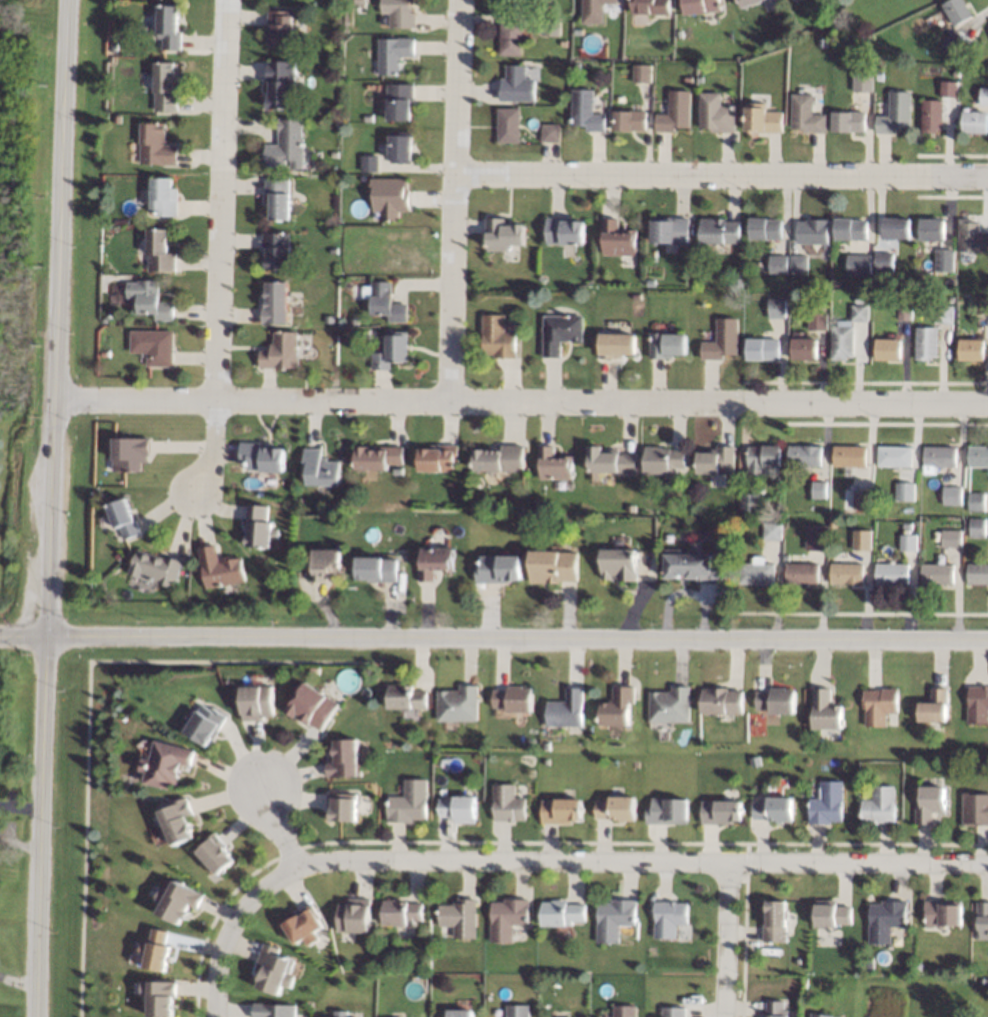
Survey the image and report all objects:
building: (358, 2)
building: (747, 3)
building: (336, 5)
building: (509, 5)
building: (649, 6)
building: (699, 6)
building: (592, 10)
building: (956, 10)
building: (397, 13)
building: (168, 26)
building: (550, 26)
building: (280, 27)
building: (510, 38)
building: (957, 42)
building: (563, 43)
building: (114, 47)
building: (392, 54)
building: (642, 72)
building: (955, 72)
building: (880, 76)
building: (699, 78)
building: (688, 80)
building: (863, 80)
building: (281, 84)
building: (516, 85)
building: (166, 87)
building: (949, 89)
building: (984, 97)
building: (398, 101)
building: (585, 111)
building: (674, 112)
building: (715, 113)
building: (896, 113)
building: (806, 115)
building: (932, 116)
building: (366, 118)
building: (762, 118)
building: (118, 119)
building: (629, 120)
building: (849, 121)
building: (975, 122)
building: (508, 125)
building: (550, 133)
building: (156, 145)
building: (287, 145)
building: (400, 147)
building: (368, 163)
road: (722, 179)
building: (164, 197)
building: (389, 197)
building: (278, 198)
road: (456, 201)
road: (220, 202)
building: (764, 228)
building: (896, 228)
building: (849, 229)
building: (930, 229)
building: (563, 231)
building: (669, 231)
building: (719, 231)
building: (811, 231)
building: (503, 234)
building: (971, 236)
building: (617, 238)
building: (276, 250)
building: (332, 250)
building: (160, 251)
building: (943, 260)
building: (883, 262)
building: (797, 263)
building: (777, 264)
building: (857, 264)
building: (650, 282)
building: (345, 285)
building: (822, 294)
building: (636, 296)
building: (859, 299)
building: (950, 299)
building: (152, 301)
building: (384, 301)
building: (275, 302)
building: (981, 305)
building: (776, 308)
building: (903, 309)
building: (858, 313)
building: (942, 314)
building: (106, 318)
building: (817, 321)
building: (560, 332)
building: (328, 333)
building: (497, 337)
building: (721, 340)
building: (841, 342)
building: (924, 343)
building: (616, 345)
building: (666, 345)
building: (153, 346)
building: (762, 349)
building: (803, 349)
building: (887, 349)
building: (970, 349)
building: (391, 351)
building: (105, 352)
building: (280, 352)
road: (518, 402)
road: (209, 448)
building: (130, 453)
building: (803, 455)
building: (763, 456)
building: (849, 456)
building: (894, 456)
building: (939, 456)
building: (978, 456)
building: (261, 457)
building: (377, 457)
building: (437, 458)
building: (499, 459)
building: (662, 460)
building: (609, 461)
building: (716, 461)
building: (553, 464)
building: (320, 468)
building: (397, 471)
building: (818, 489)
building: (905, 492)
building: (259, 494)
building: (951, 495)
building: (748, 501)
building: (862, 501)
building: (976, 501)
building: (629, 507)
road: (46, 508)
building: (125, 518)
building: (799, 519)
building: (832, 521)
building: (907, 526)
building: (260, 527)
building: (977, 527)
building: (771, 531)
building: (951, 539)
building: (861, 540)
building: (816, 542)
building: (908, 543)
building: (119, 556)
building: (434, 562)
building: (325, 564)
building: (618, 564)
building: (552, 566)
building: (691, 566)
building: (157, 568)
building: (221, 568)
building: (376, 569)
building: (498, 569)
building: (756, 573)
building: (801, 573)
building: (847, 573)
building: (892, 574)
building: (937, 574)
building: (977, 574)
building: (276, 580)
road: (493, 636)
building: (406, 697)
building: (513, 699)
building: (776, 700)
building: (722, 701)
building: (257, 702)
building: (458, 704)
building: (977, 704)
building: (670, 705)
building: (879, 705)
building: (935, 706)
building: (313, 707)
building: (618, 707)
building: (566, 709)
building: (826, 710)
building: (205, 724)
building: (345, 759)
building: (755, 761)
building: (166, 764)
building: (442, 792)
building: (408, 802)
building: (507, 803)
building: (827, 803)
building: (929, 804)
building: (878, 805)
building: (342, 806)
building: (458, 808)
building: (616, 808)
building: (772, 809)
building: (974, 809)
building: (561, 810)
building: (666, 810)
building: (720, 812)
road: (280, 820)
building: (178, 821)
road: (536, 842)
building: (216, 853)
road: (643, 861)
building: (179, 901)
building: (401, 912)
building: (942, 912)
building: (561, 913)
building: (830, 913)
building: (354, 916)
building: (459, 917)
building: (668, 917)
building: (508, 918)
building: (614, 918)
building: (885, 920)
building: (982, 920)
building: (774, 921)
building: (305, 925)
road: (233, 926)
road: (743, 930)
building: (521, 933)
road: (725, 939)
building: (158, 950)
building: (365, 966)
building: (275, 969)
building: (162, 997)
building: (488, 998)
building: (774, 1009)
building: (274, 1010)
building: (517, 1011)
building: (625, 1011)
building: (673, 1012)
building: (459, 1013)
building: (341, 1014)
building: (819, 1015)

